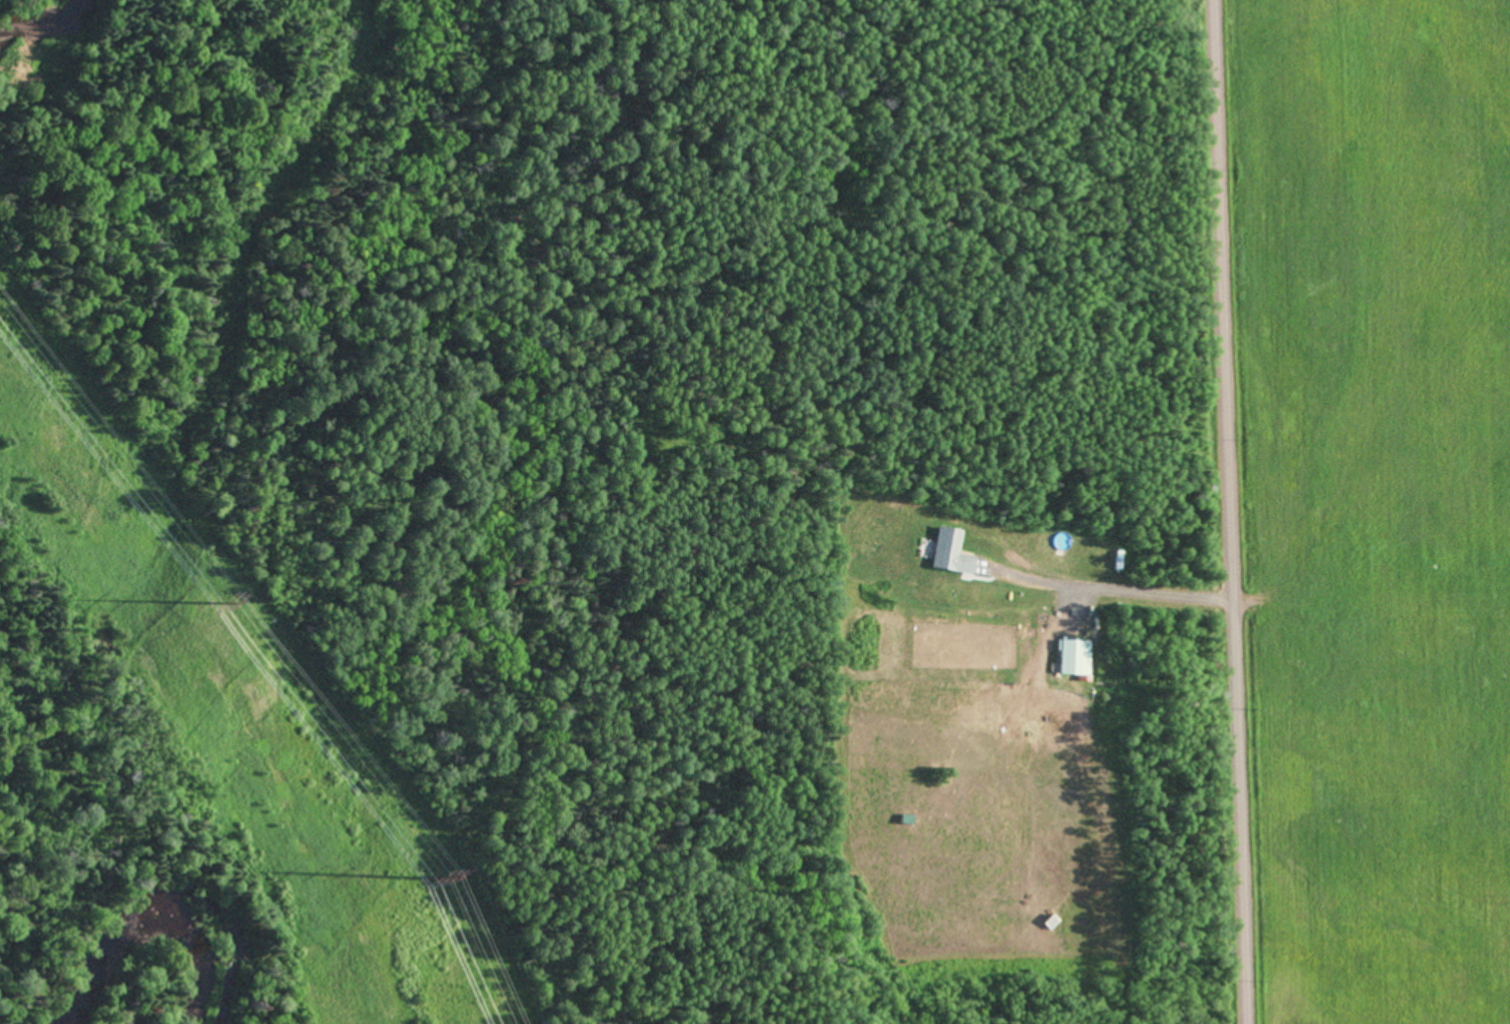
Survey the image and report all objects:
road: (1234, 511)
building: (953, 555)
power tower: (209, 603)
building: (1074, 660)
power tower: (424, 879)

